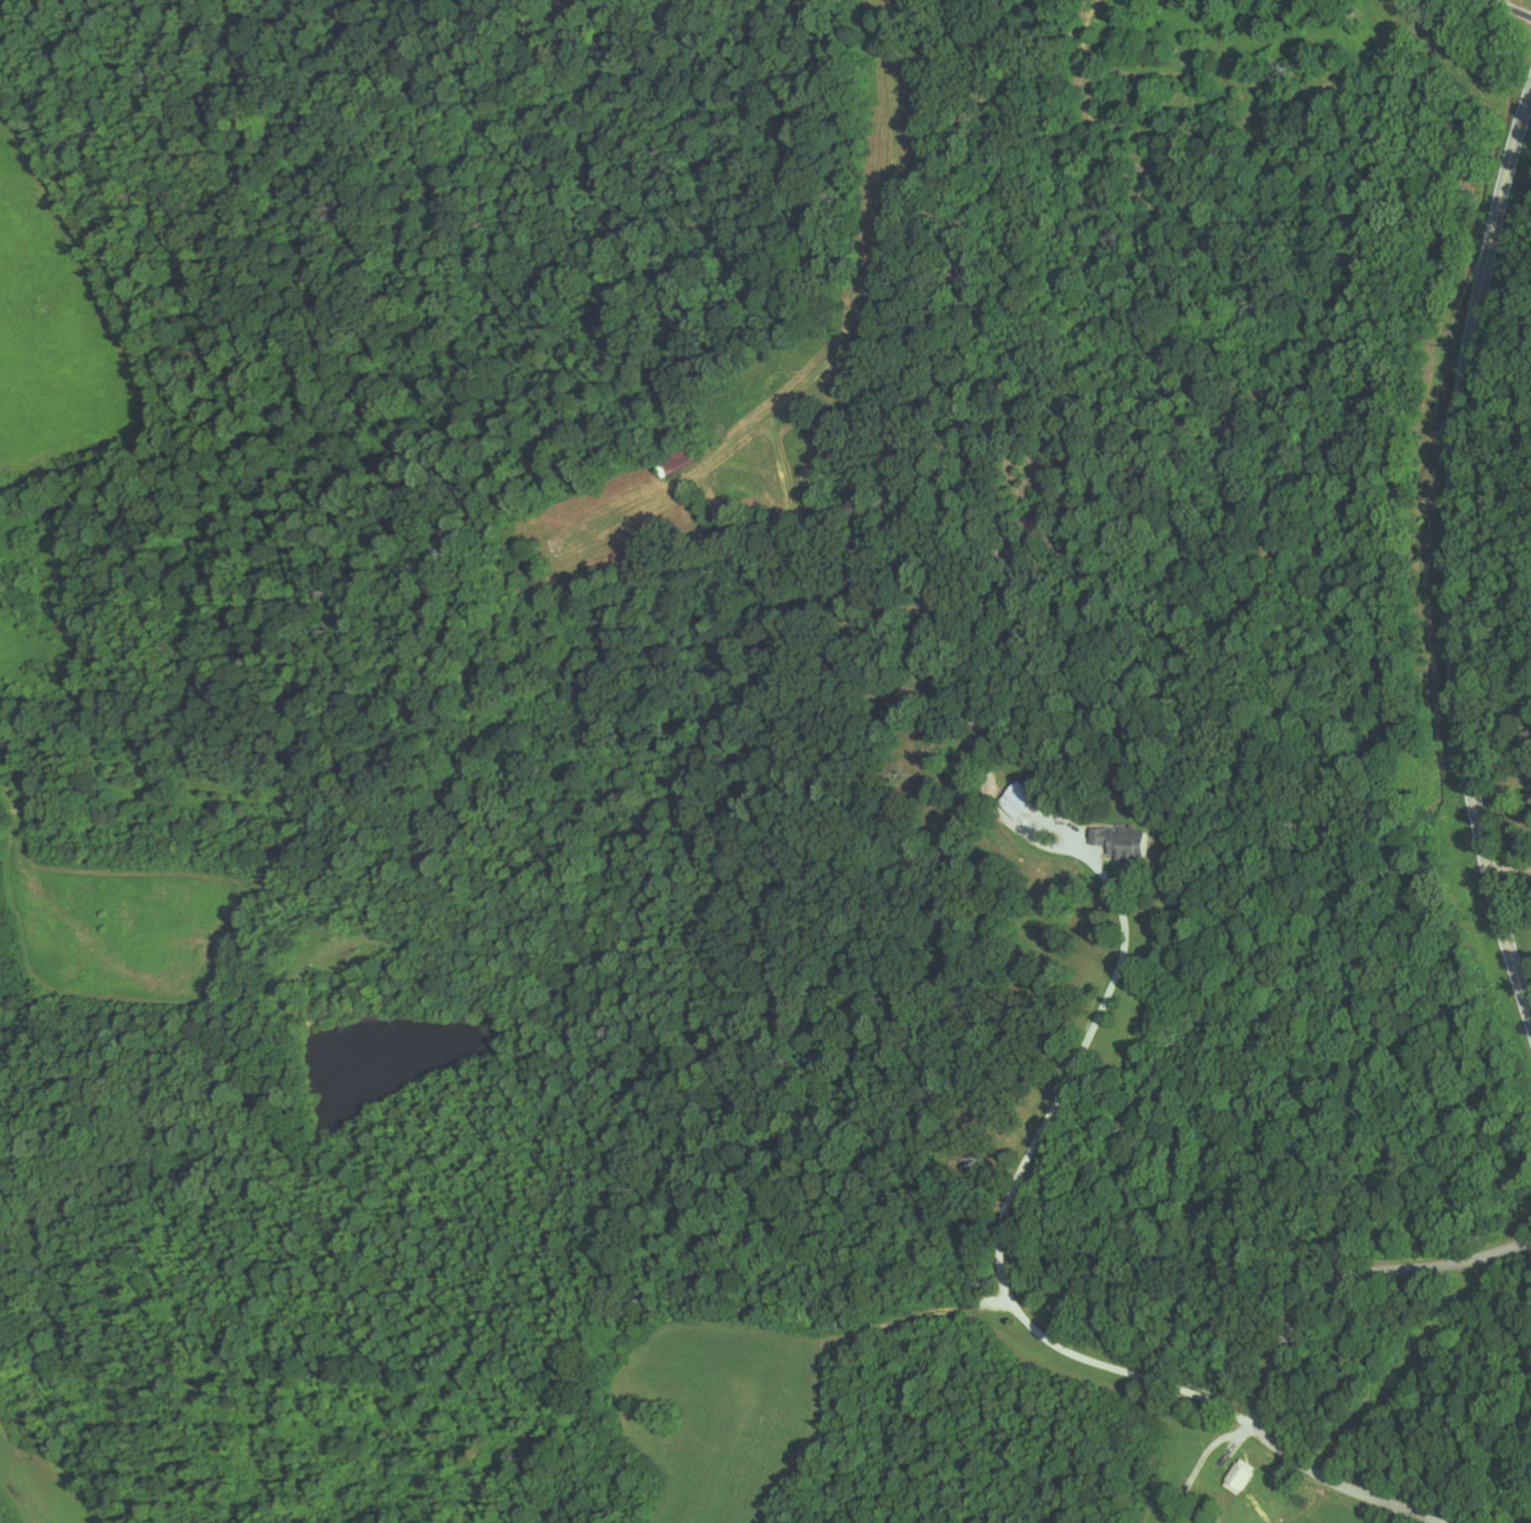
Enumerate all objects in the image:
building: (679, 458)
road: (1452, 560)
road: (1179, 708)
building: (1122, 842)
road: (1527, 995)
road: (1282, 1348)

